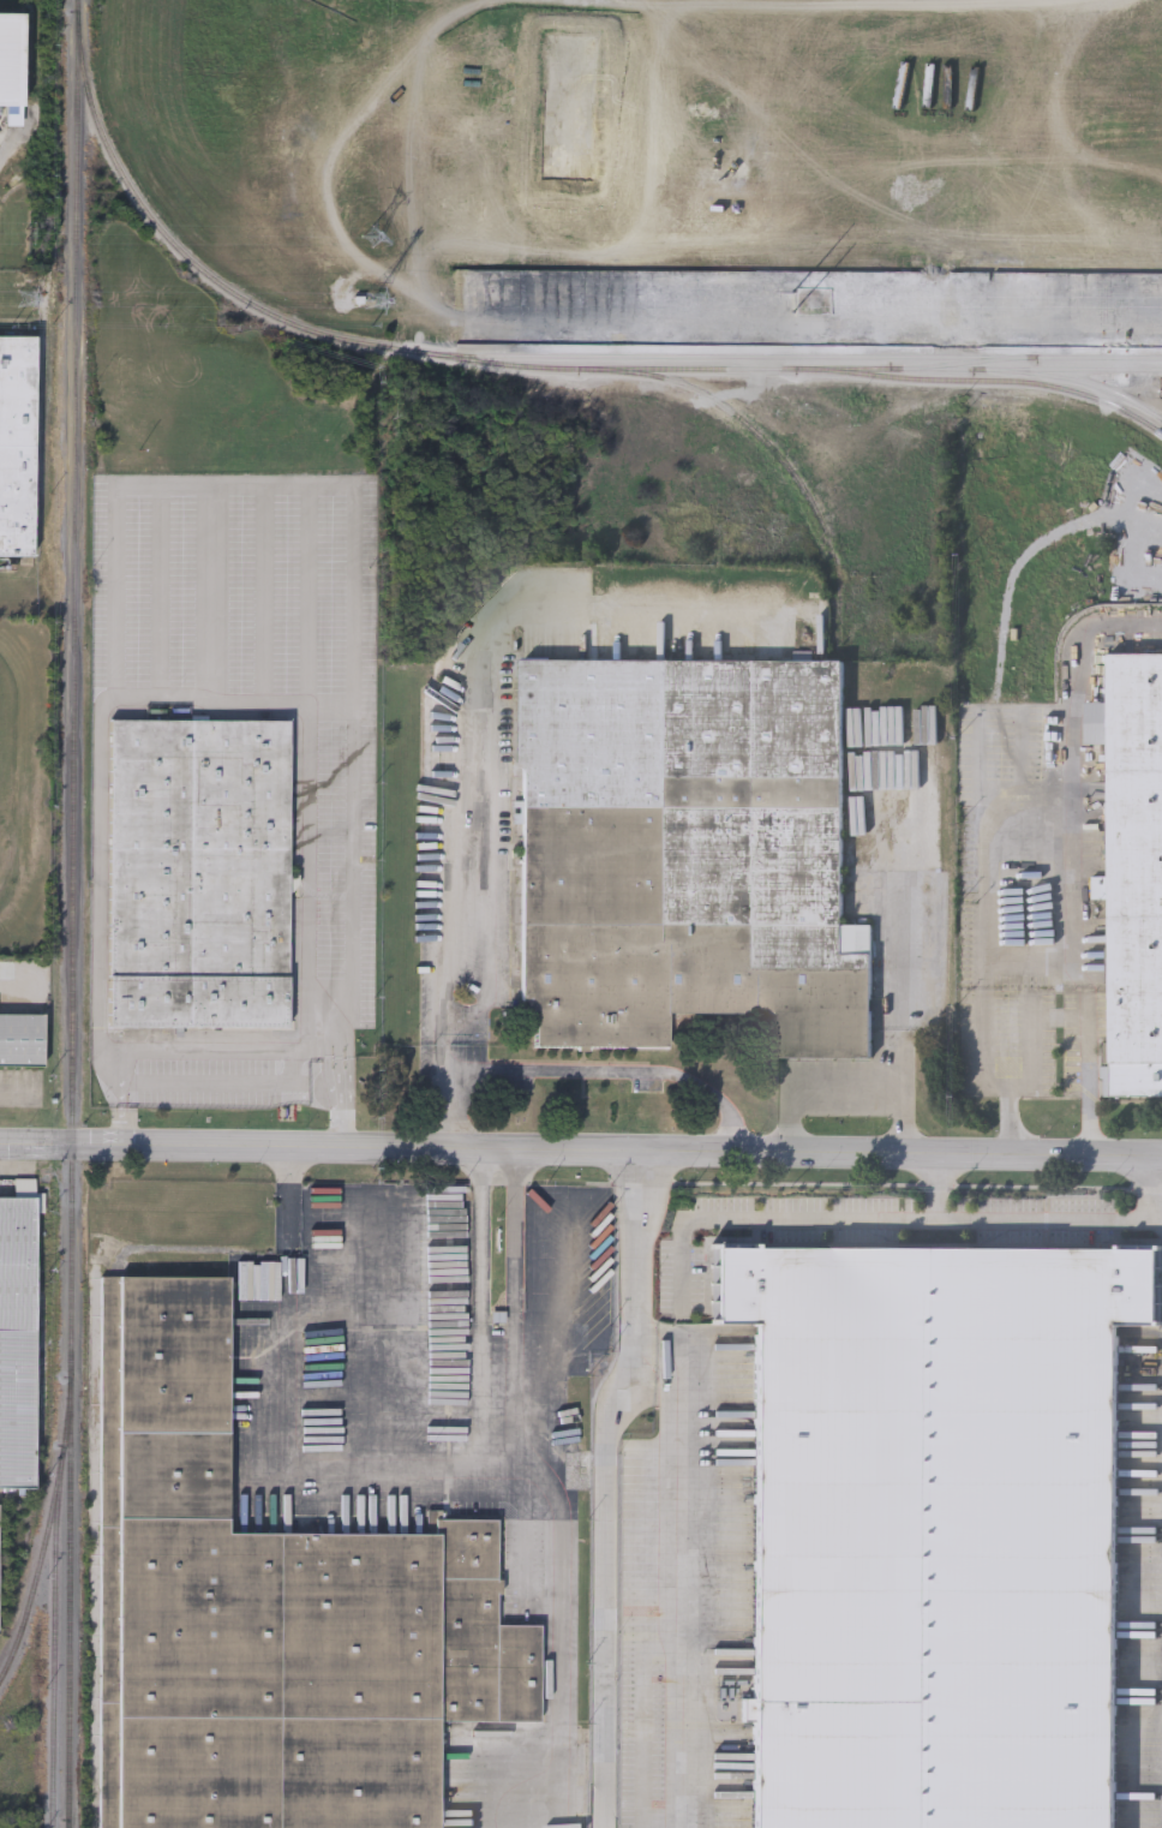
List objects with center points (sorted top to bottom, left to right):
building: (11, 58)
power tower: (28, 238)
power tower: (377, 239)
power tower: (29, 301)
power tower: (376, 305)
power tower: (819, 305)
railway: (797, 356)
railway: (527, 364)
railway: (993, 366)
railway: (1071, 381)
building: (17, 444)
railway: (775, 449)
road: (242, 483)
road: (161, 589)
road: (212, 591)
road: (264, 592)
road: (311, 595)
road: (459, 704)
road: (335, 706)
road: (101, 787)
road: (983, 822)
railway: (72, 843)
building: (691, 855)
building: (1136, 872)
building: (198, 873)
road: (898, 933)
road: (1082, 1018)
building: (22, 1039)
road: (198, 1045)
road: (580, 1069)
road: (295, 1075)
road: (846, 1085)
road: (18, 1089)
road: (121, 1093)
road: (120, 1125)
road: (59, 1143)
road: (640, 1151)
road: (934, 1185)
road: (928, 1219)
road: (481, 1256)
road: (515, 1256)
road: (564, 1291)
building: (16, 1339)
road: (396, 1352)
road: (289, 1429)
road: (606, 1487)
building: (0, 1518)
building: (940, 1530)
road: (563, 1566)
road: (677, 1571)
railway: (67, 1608)
building: (270, 1614)
railway: (54, 1657)

